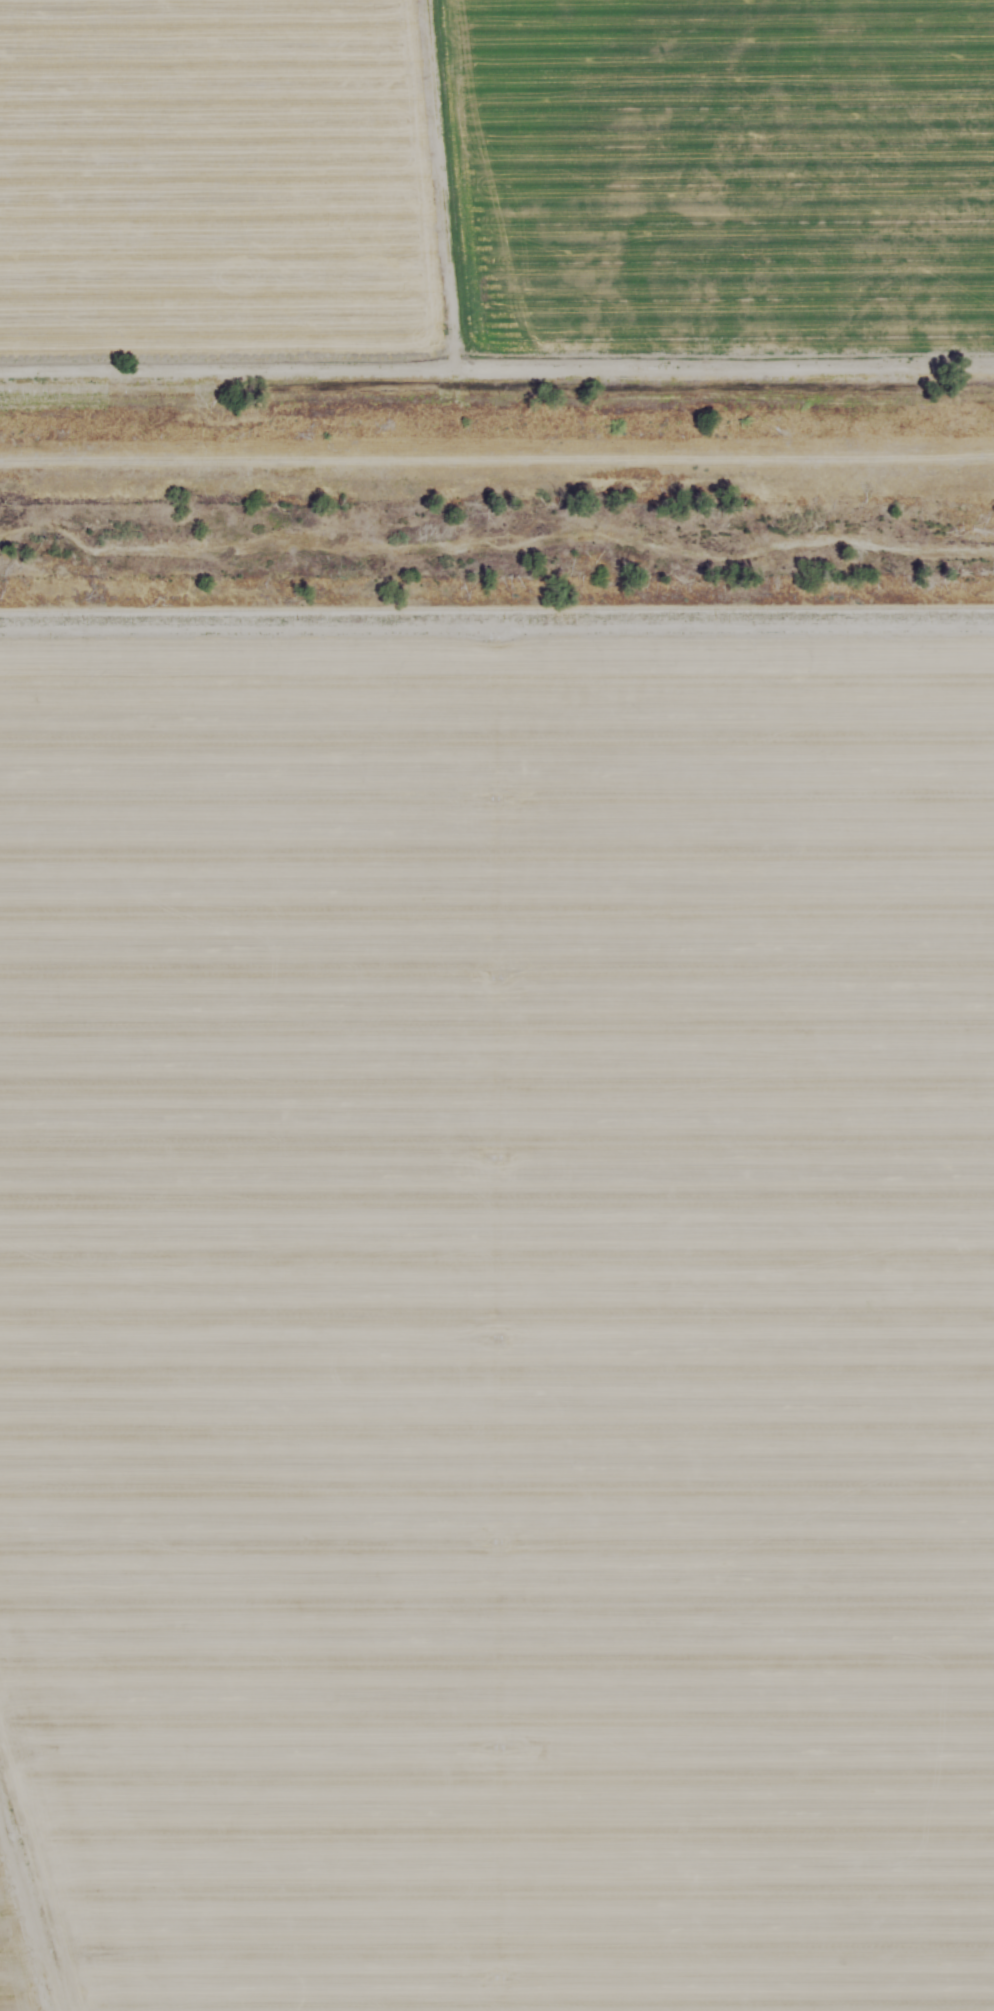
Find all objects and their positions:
crop: (496, 182)
road: (497, 673)
crop: (497, 1312)
road: (42, 1881)

